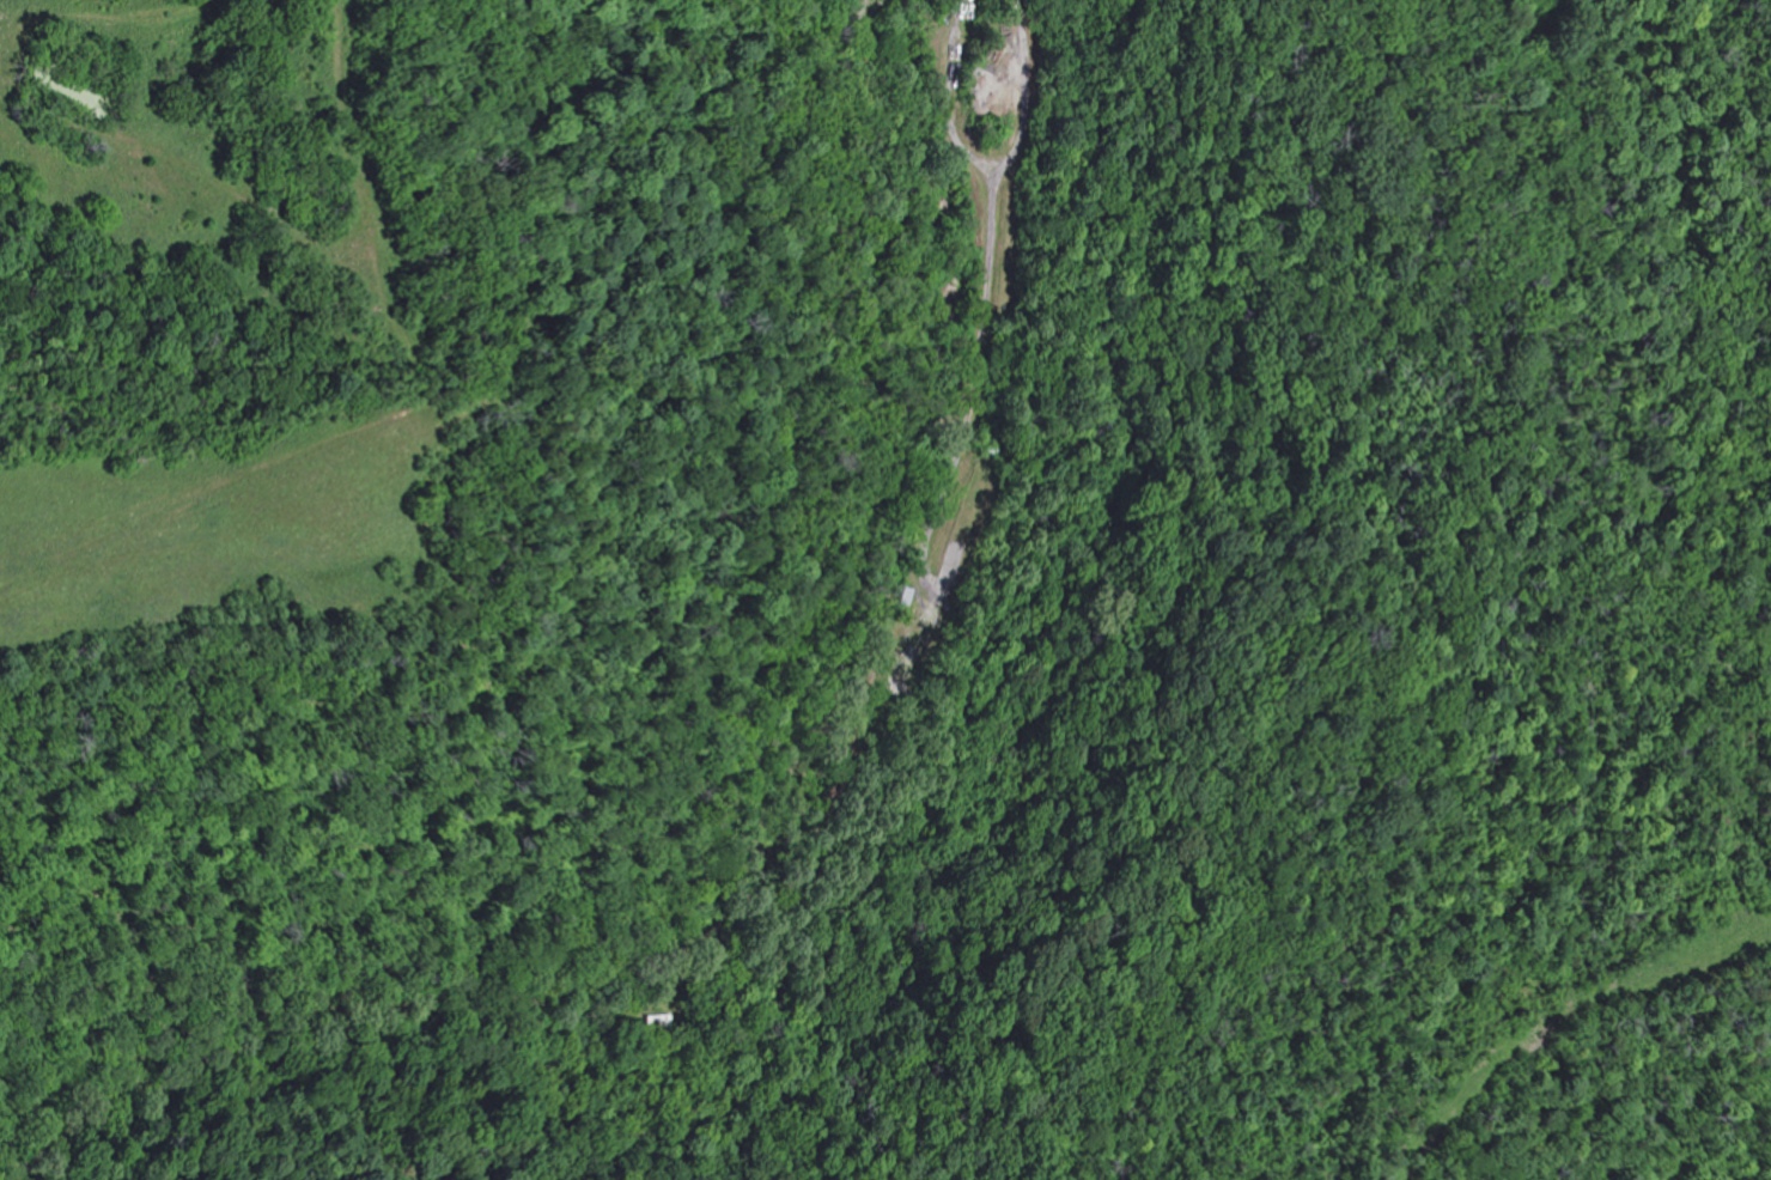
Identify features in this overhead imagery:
road: (264, 466)

